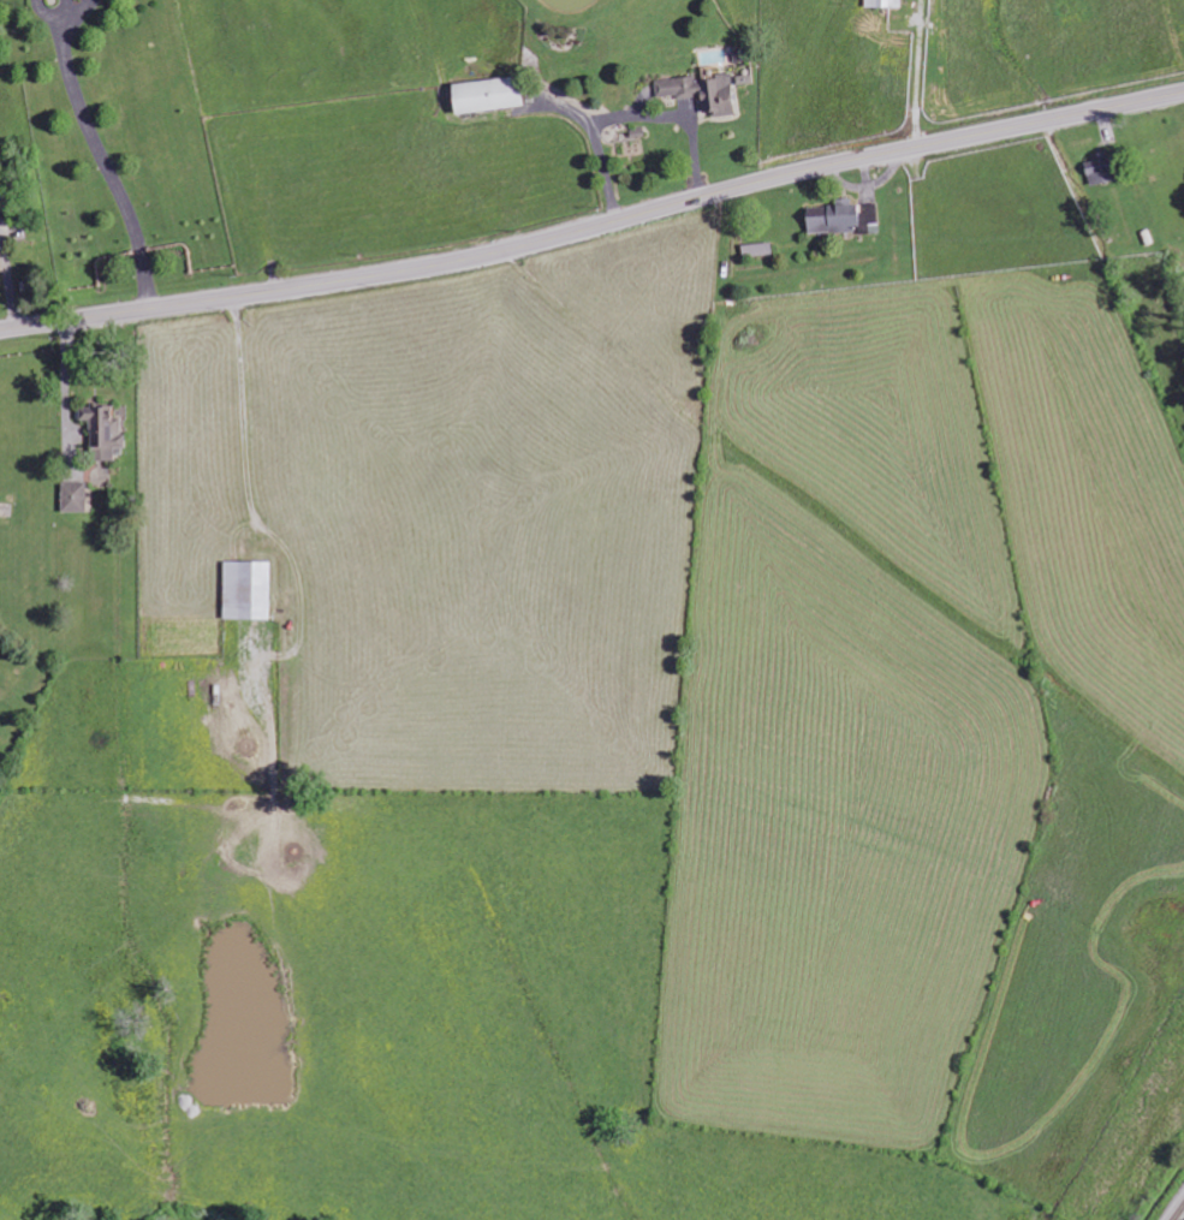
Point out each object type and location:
building: (885, 4)
building: (702, 91)
building: (489, 95)
building: (1102, 168)
building: (870, 215)
building: (834, 219)
road: (594, 225)
building: (757, 249)
building: (106, 430)
building: (75, 498)
building: (248, 590)
railway: (1178, 1212)

